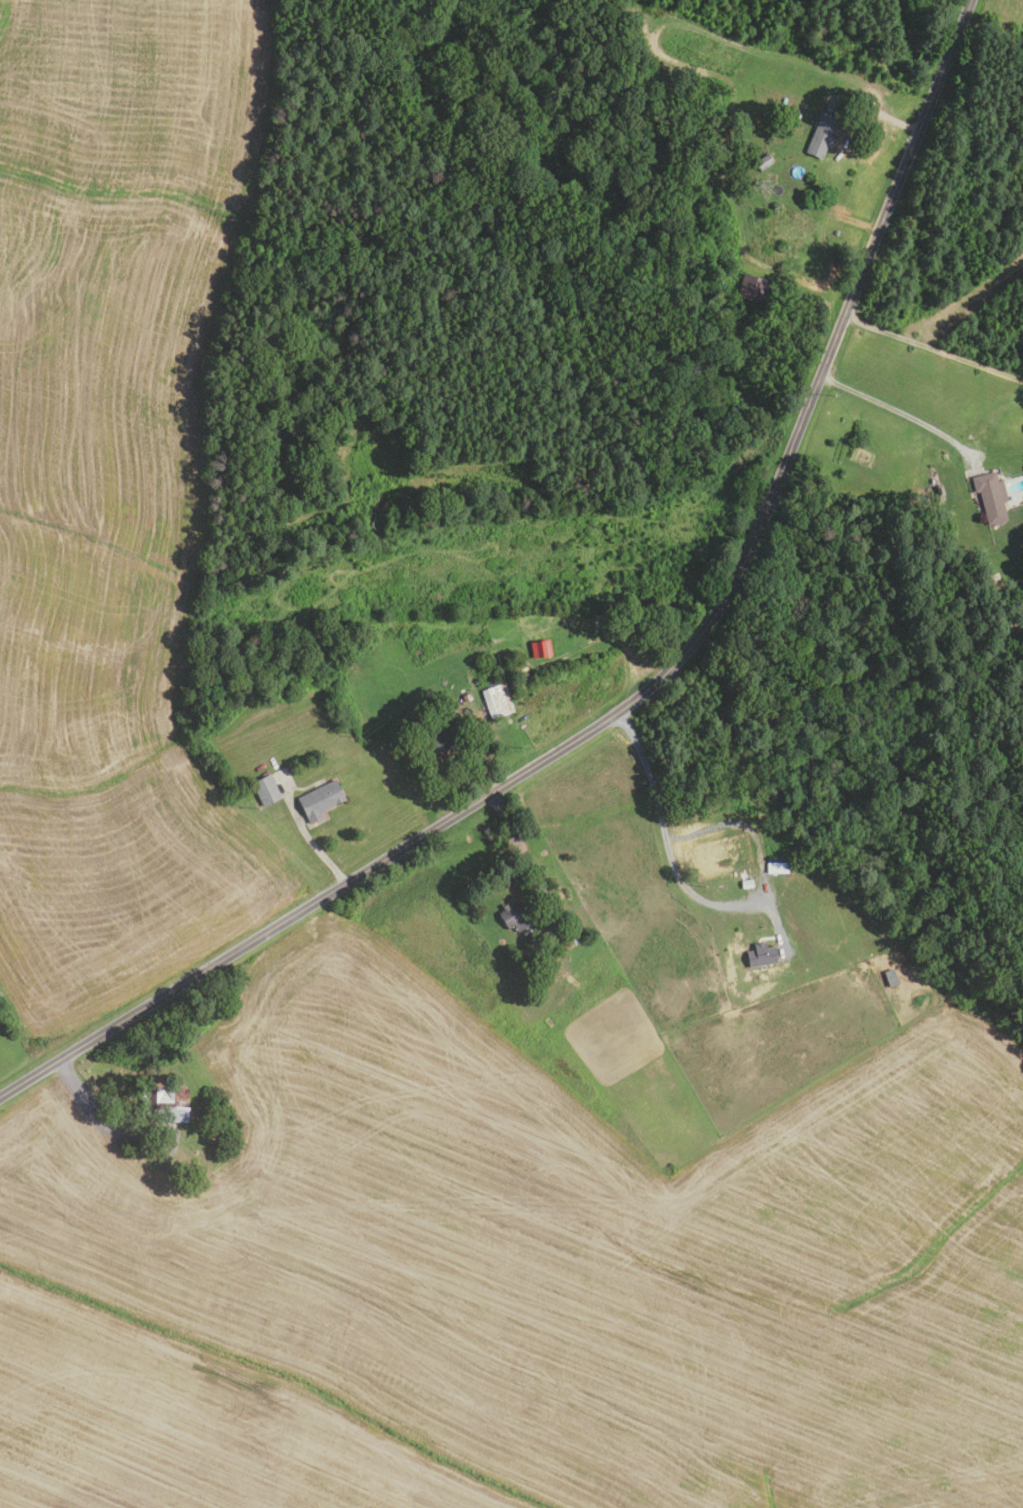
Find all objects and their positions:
building: (820, 135)
building: (762, 162)
building: (721, 275)
building: (752, 289)
road: (932, 349)
road: (900, 412)
building: (282, 451)
building: (989, 497)
building: (995, 577)
building: (542, 649)
building: (332, 682)
road: (647, 688)
building: (467, 697)
building: (497, 702)
building: (443, 739)
road: (482, 771)
building: (267, 791)
building: (321, 800)
road: (508, 831)
road: (666, 837)
road: (311, 845)
building: (778, 868)
building: (747, 885)
building: (515, 917)
building: (566, 942)
building: (763, 956)
building: (892, 978)
building: (164, 1104)
road: (100, 1122)
crop: (513, 1276)

